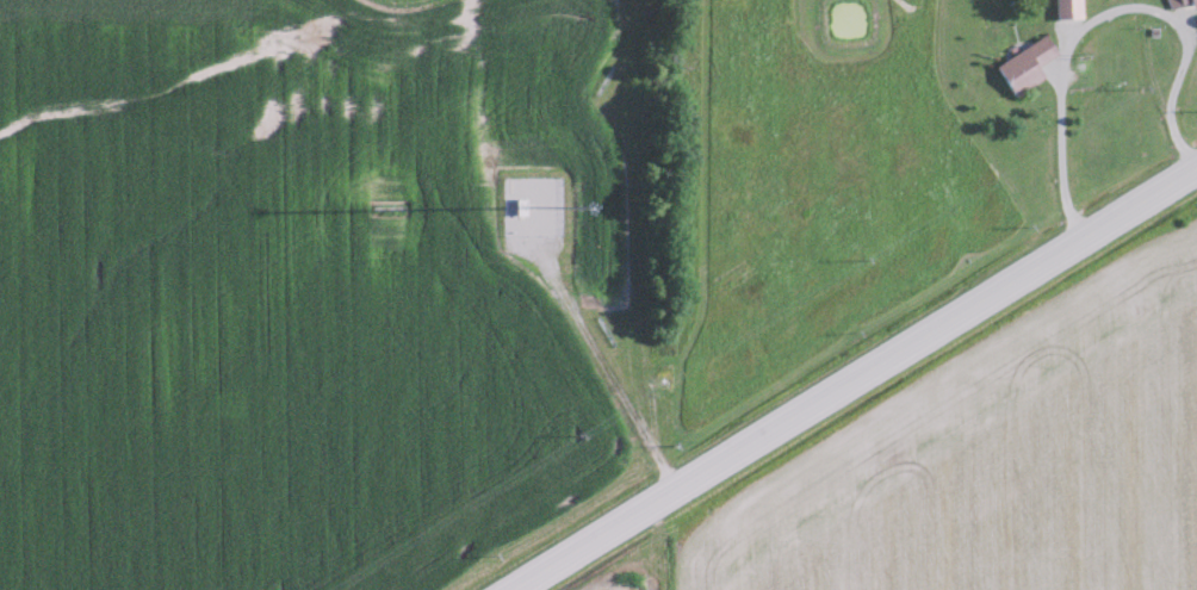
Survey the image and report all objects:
building: (1179, 4)
building: (1067, 7)
road: (1100, 18)
building: (1025, 63)
road: (855, 379)

